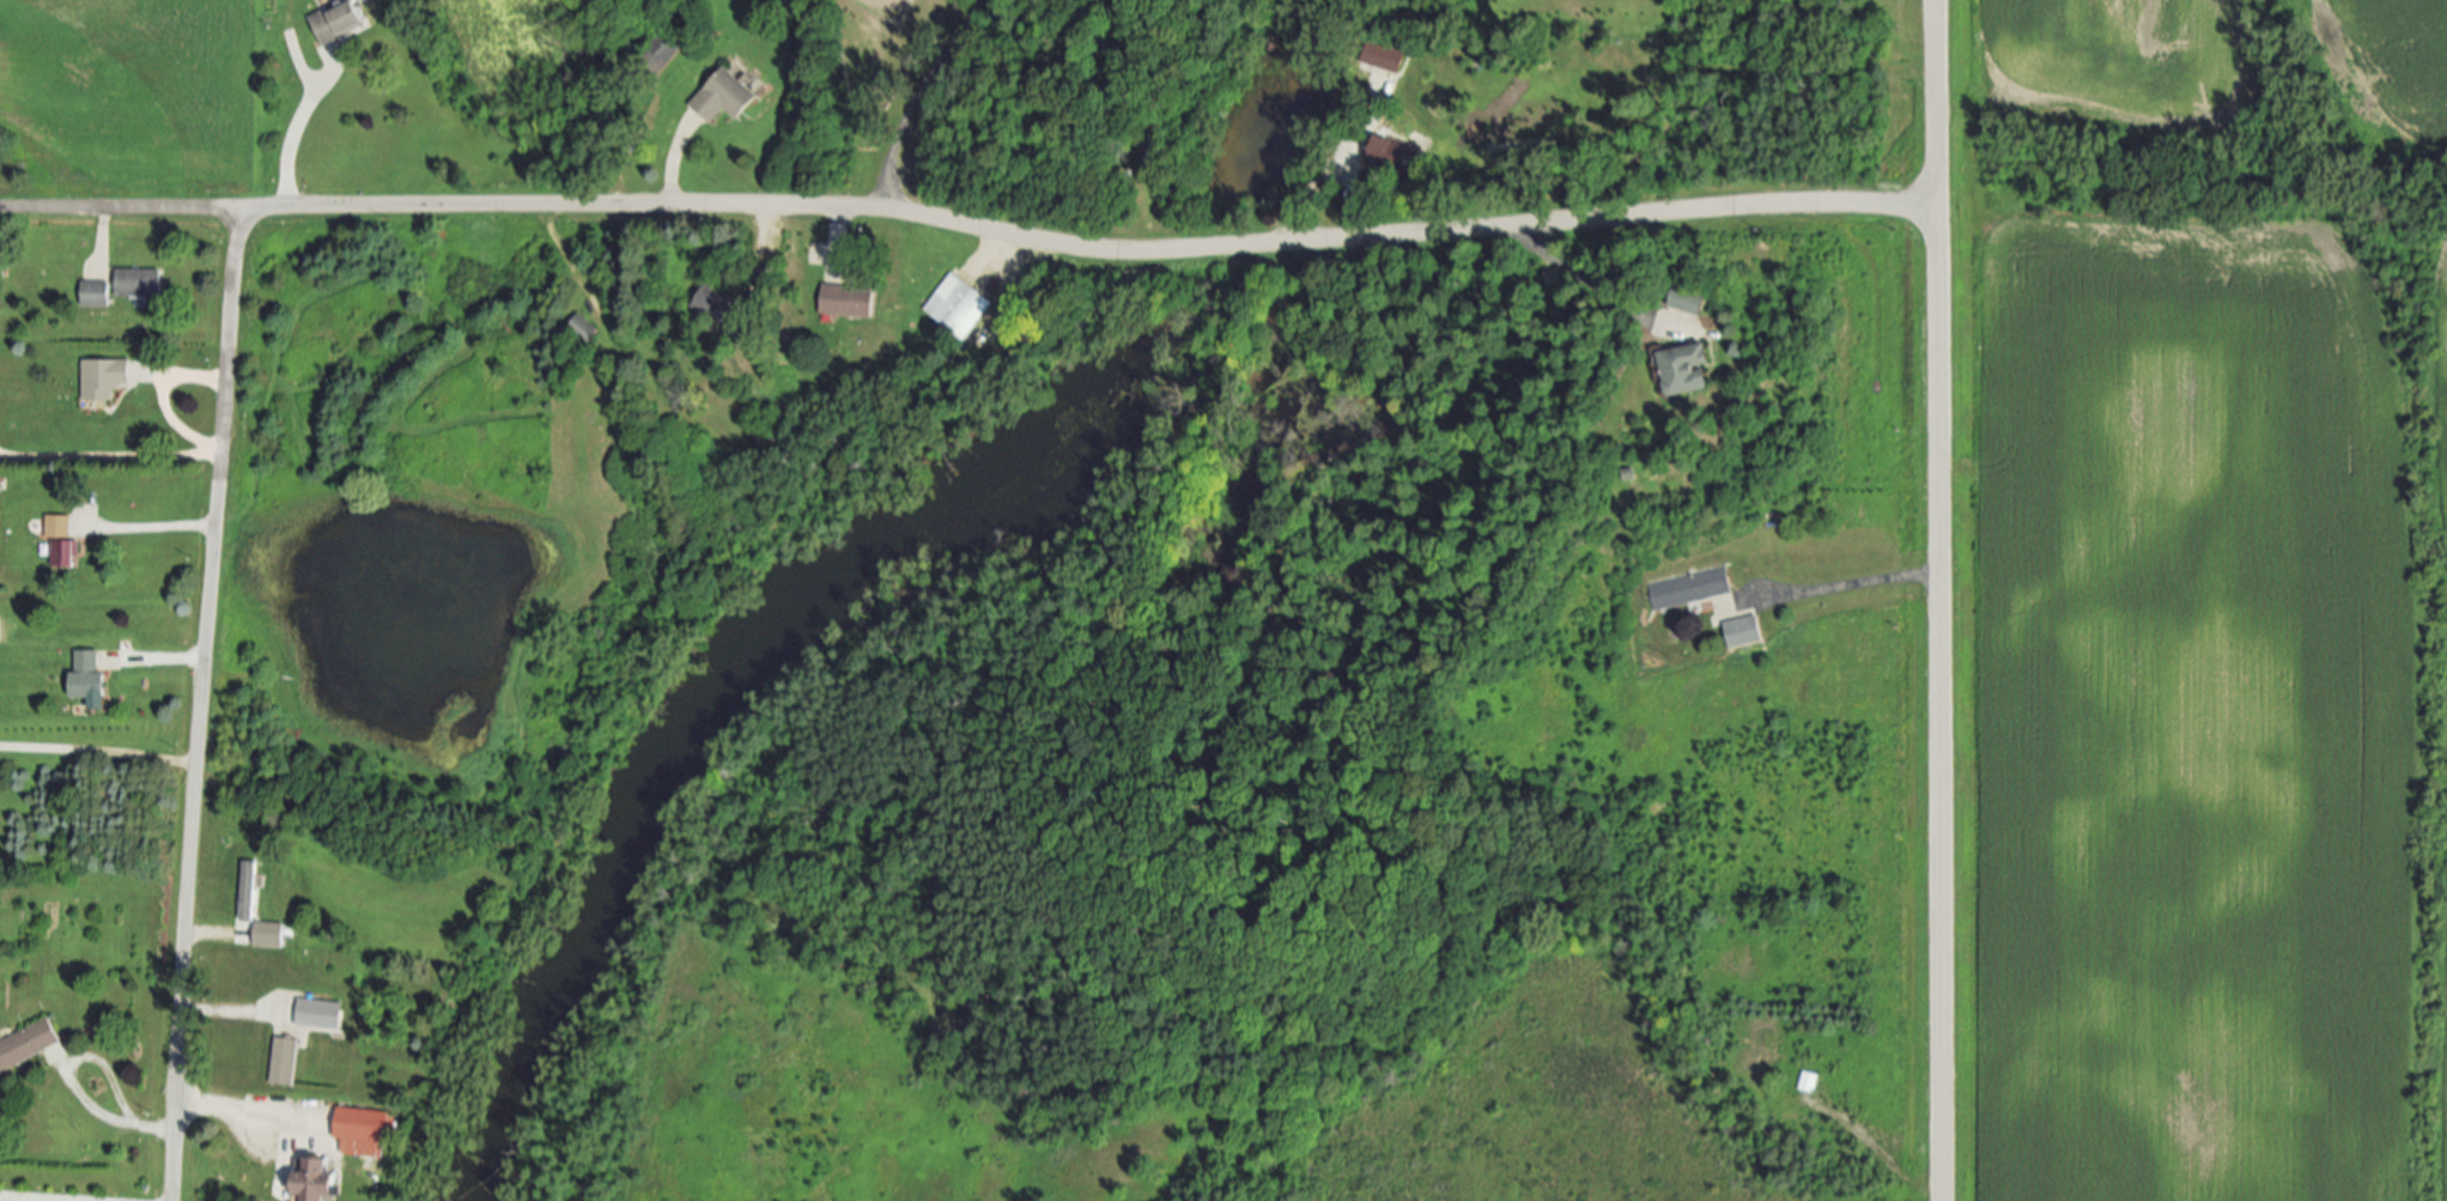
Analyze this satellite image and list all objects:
building: (340, 22)
building: (662, 51)
building: (1389, 57)
road: (1692, 66)
building: (727, 96)
road: (917, 97)
road: (295, 135)
building: (1392, 157)
road: (1324, 160)
road: (674, 168)
road: (119, 210)
road: (767, 224)
road: (101, 230)
road: (836, 232)
road: (1086, 249)
building: (140, 283)
building: (96, 293)
building: (852, 301)
building: (1695, 302)
building: (718, 303)
building: (960, 305)
building: (585, 329)
building: (1693, 370)
building: (105, 378)
road: (195, 453)
road: (154, 526)
building: (59, 527)
building: (65, 553)
road: (1848, 581)
building: (1690, 588)
road: (1937, 600)
building: (1745, 631)
road: (163, 659)
building: (89, 677)
road: (202, 705)
road: (98, 750)
building: (250, 890)
road: (204, 930)
building: (272, 934)
road: (226, 1012)
building: (320, 1013)
building: (29, 1044)
building: (286, 1061)
road: (72, 1079)
building: (1809, 1081)
road: (244, 1116)
building: (368, 1130)
building: (318, 1179)
road: (22, 1199)

